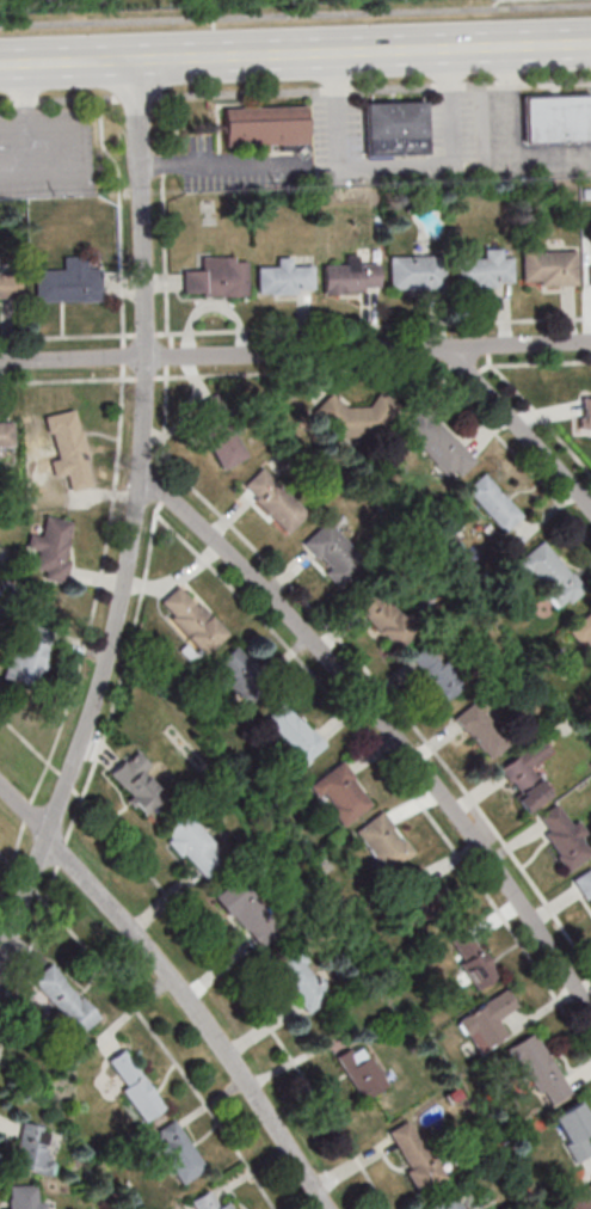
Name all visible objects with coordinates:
road: (295, 14)
road: (363, 53)
road: (68, 62)
road: (295, 90)
building: (555, 117)
building: (264, 125)
building: (394, 128)
road: (25, 129)
road: (498, 148)
road: (217, 161)
road: (396, 162)
road: (143, 208)
building: (548, 266)
building: (590, 268)
building: (485, 270)
building: (417, 272)
building: (216, 277)
building: (350, 277)
building: (285, 278)
building: (68, 282)
building: (8, 288)
road: (369, 350)
road: (74, 360)
building: (584, 412)
building: (351, 418)
road: (522, 429)
building: (218, 431)
building: (6, 437)
building: (438, 444)
building: (70, 450)
building: (273, 499)
building: (493, 502)
building: (51, 547)
building: (333, 552)
building: (550, 575)
building: (386, 616)
building: (191, 619)
building: (584, 631)
building: (27, 652)
building: (242, 673)
building: (435, 673)
road: (103, 679)
road: (384, 725)
building: (482, 729)
building: (295, 731)
building: (527, 774)
building: (136, 781)
building: (341, 793)
building: (565, 836)
building: (384, 841)
building: (193, 843)
building: (584, 884)
building: (418, 894)
building: (248, 913)
road: (210, 951)
building: (473, 958)
building: (300, 978)
road: (177, 987)
building: (64, 998)
road: (147, 1019)
building: (488, 1021)
building: (540, 1069)
building: (363, 1070)
building: (135, 1084)
building: (574, 1130)
building: (35, 1148)
building: (180, 1152)
building: (415, 1155)
building: (25, 1197)
building: (580, 1198)
building: (213, 1201)
building: (450, 1202)

